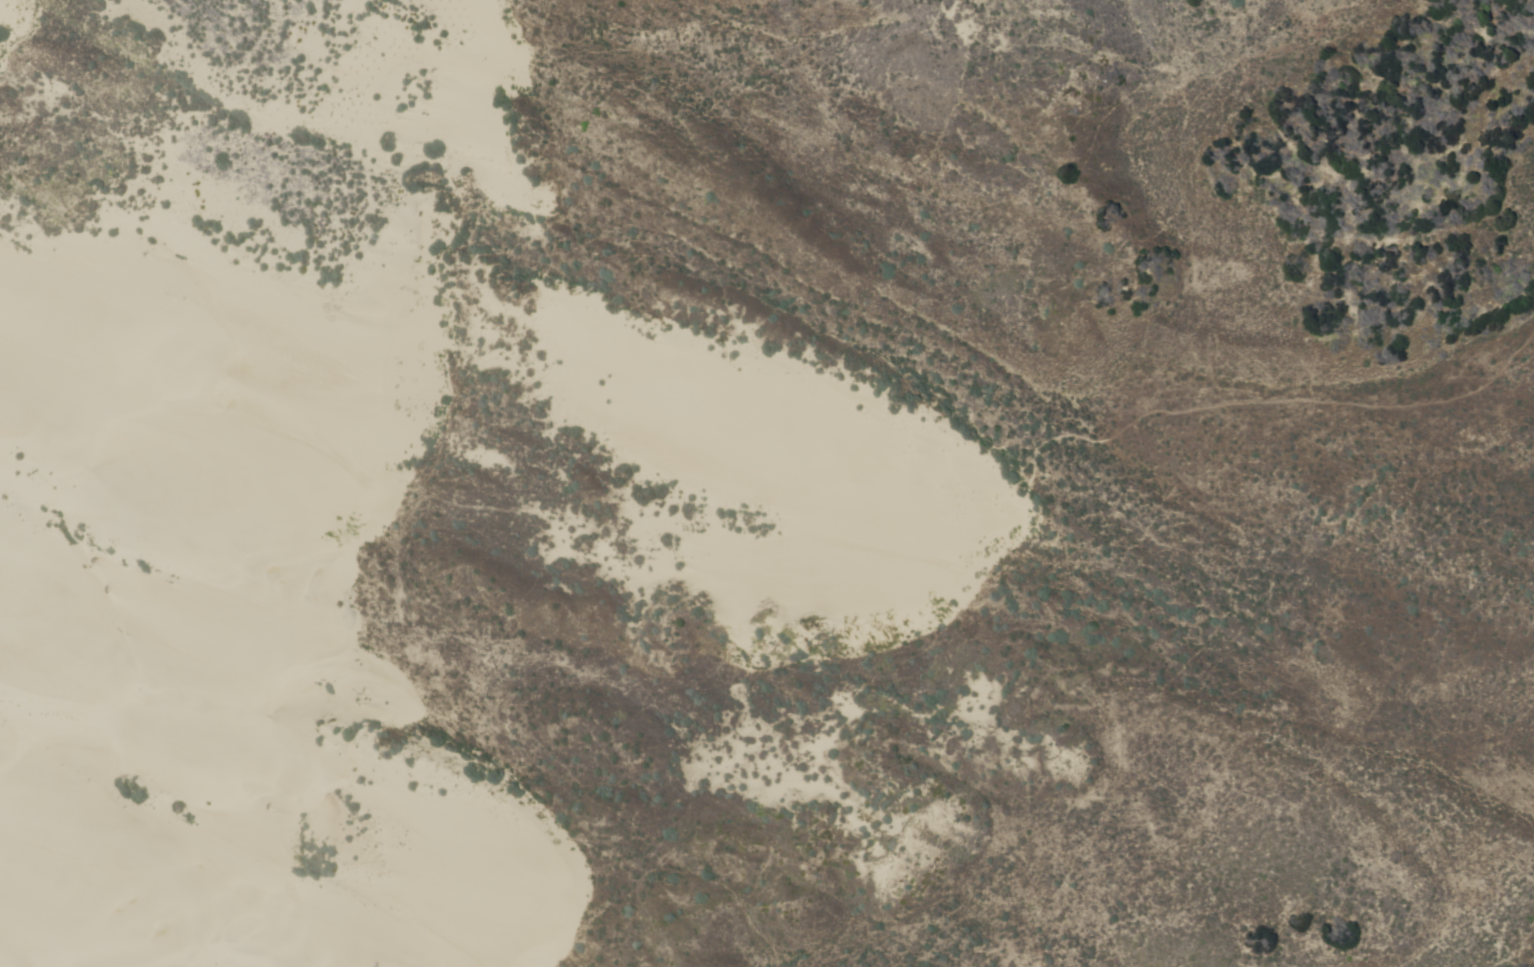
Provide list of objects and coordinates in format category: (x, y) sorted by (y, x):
park: (767, 483)

